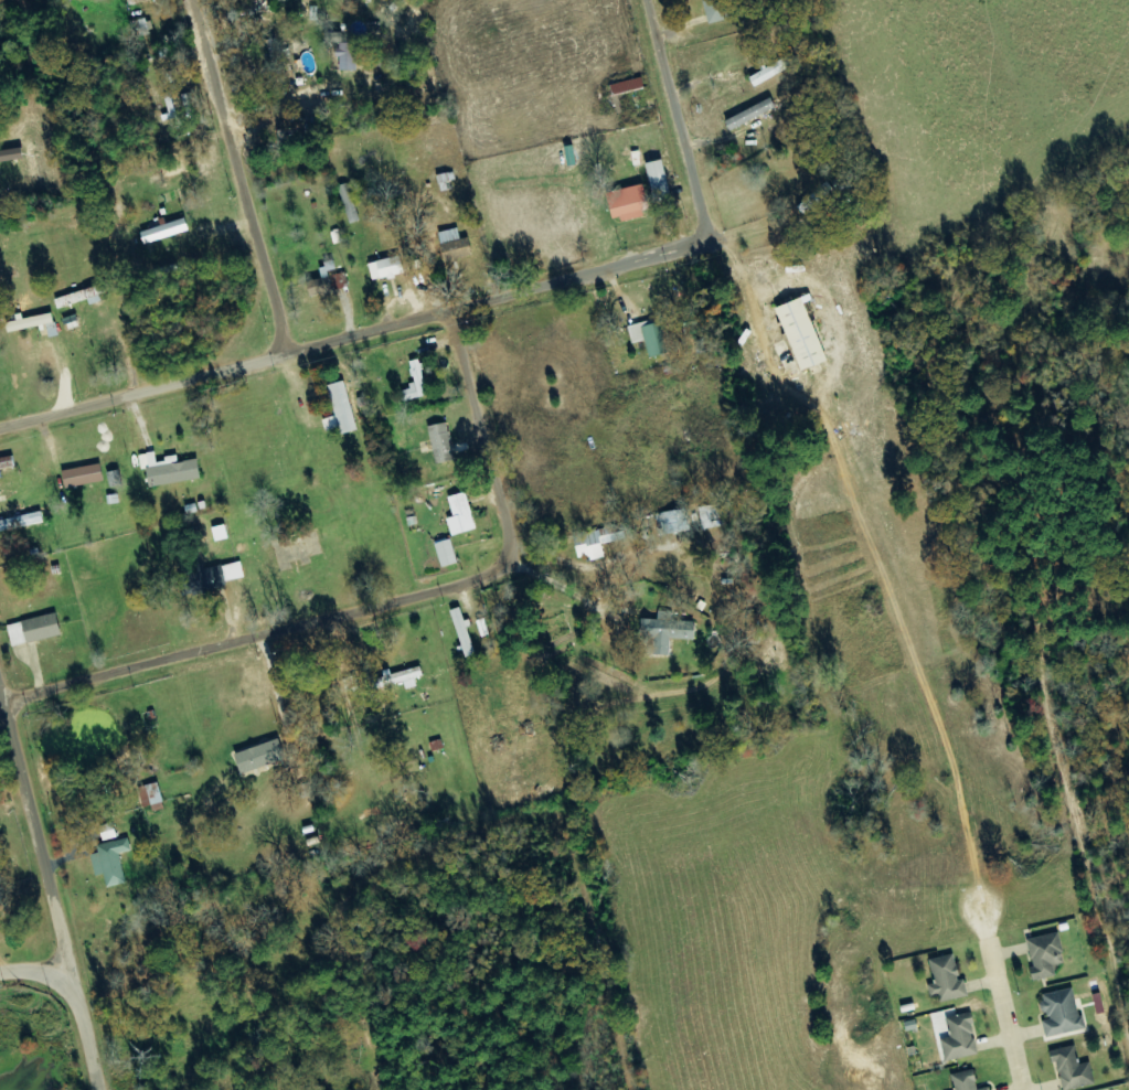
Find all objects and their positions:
building: (718, 11)
building: (347, 52)
building: (766, 74)
building: (171, 104)
building: (748, 114)
road: (648, 161)
building: (654, 181)
road: (118, 195)
building: (624, 203)
building: (167, 232)
building: (456, 244)
building: (390, 268)
building: (326, 280)
building: (84, 297)
building: (32, 323)
building: (797, 334)
building: (650, 336)
road: (354, 339)
building: (415, 391)
building: (342, 410)
road: (481, 423)
building: (444, 442)
building: (171, 470)
building: (86, 475)
building: (462, 515)
building: (713, 516)
building: (21, 522)
building: (674, 522)
building: (447, 554)
building: (213, 578)
building: (36, 630)
road: (270, 632)
building: (669, 632)
building: (465, 633)
building: (400, 678)
building: (263, 756)
building: (152, 794)
building: (109, 832)
building: (113, 862)
road: (51, 895)
building: (1046, 955)
road: (164, 958)
road: (33, 971)
building: (949, 979)
road: (1003, 1001)
building: (1063, 1013)
building: (961, 1038)
building: (1074, 1070)
building: (967, 1080)
building: (989, 1089)

